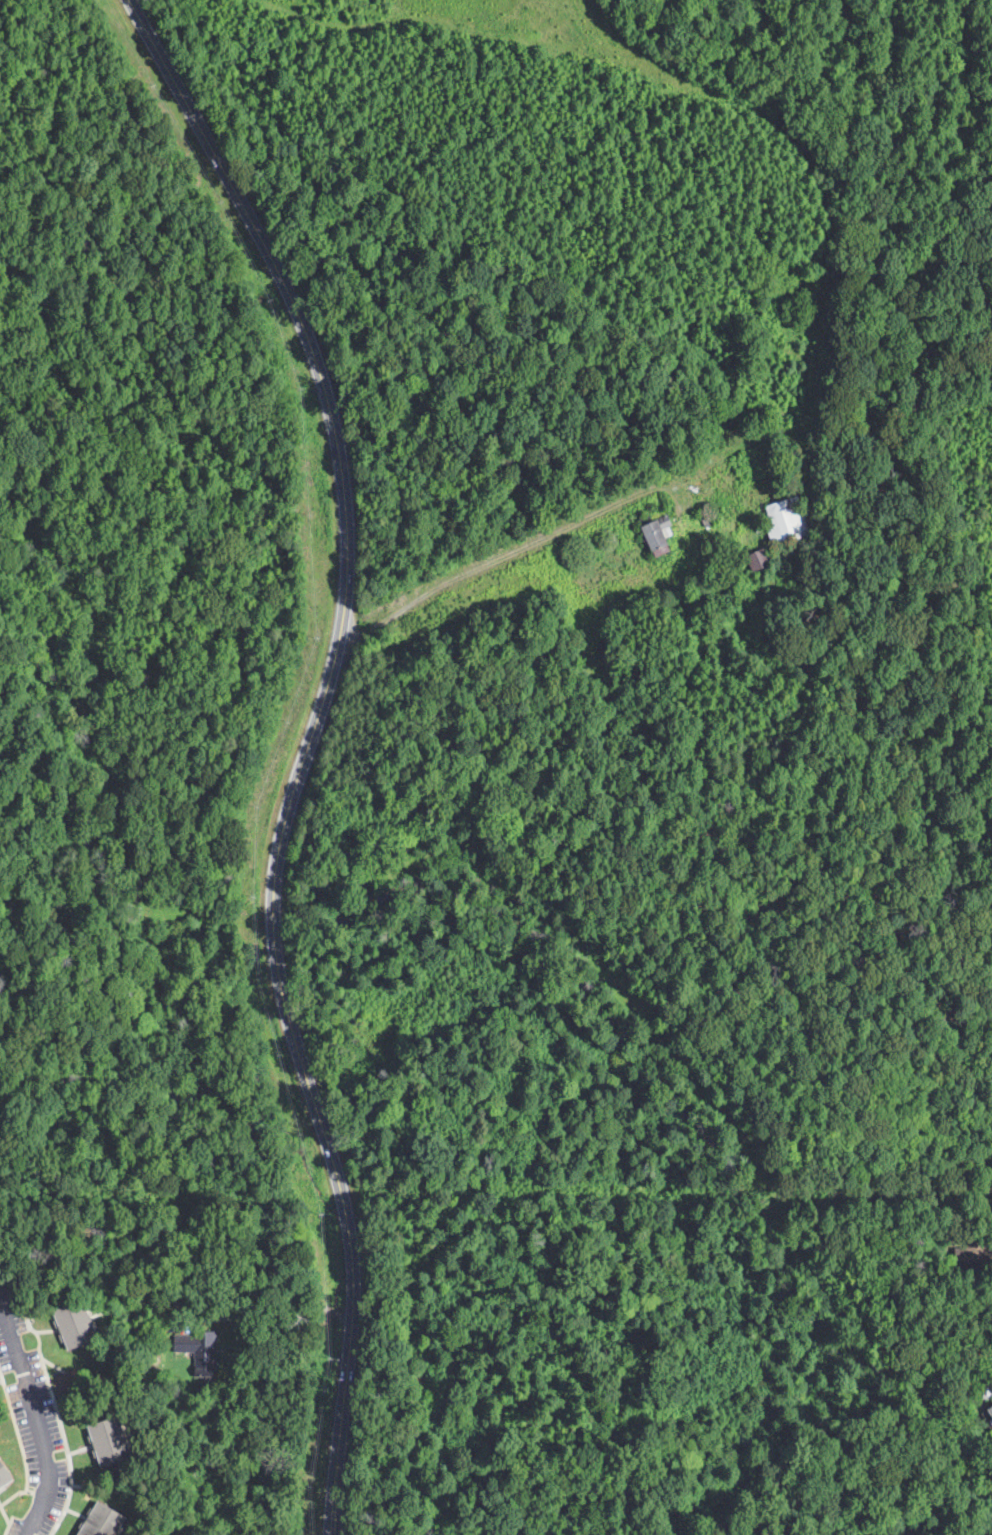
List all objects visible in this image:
road: (346, 521)
building: (784, 521)
building: (653, 535)
building: (754, 559)
road: (491, 560)
road: (224, 1293)
road: (352, 1304)
building: (77, 1324)
building: (200, 1349)
building: (988, 1412)
road: (35, 1417)
building: (112, 1440)
building: (5, 1474)
building: (106, 1520)

